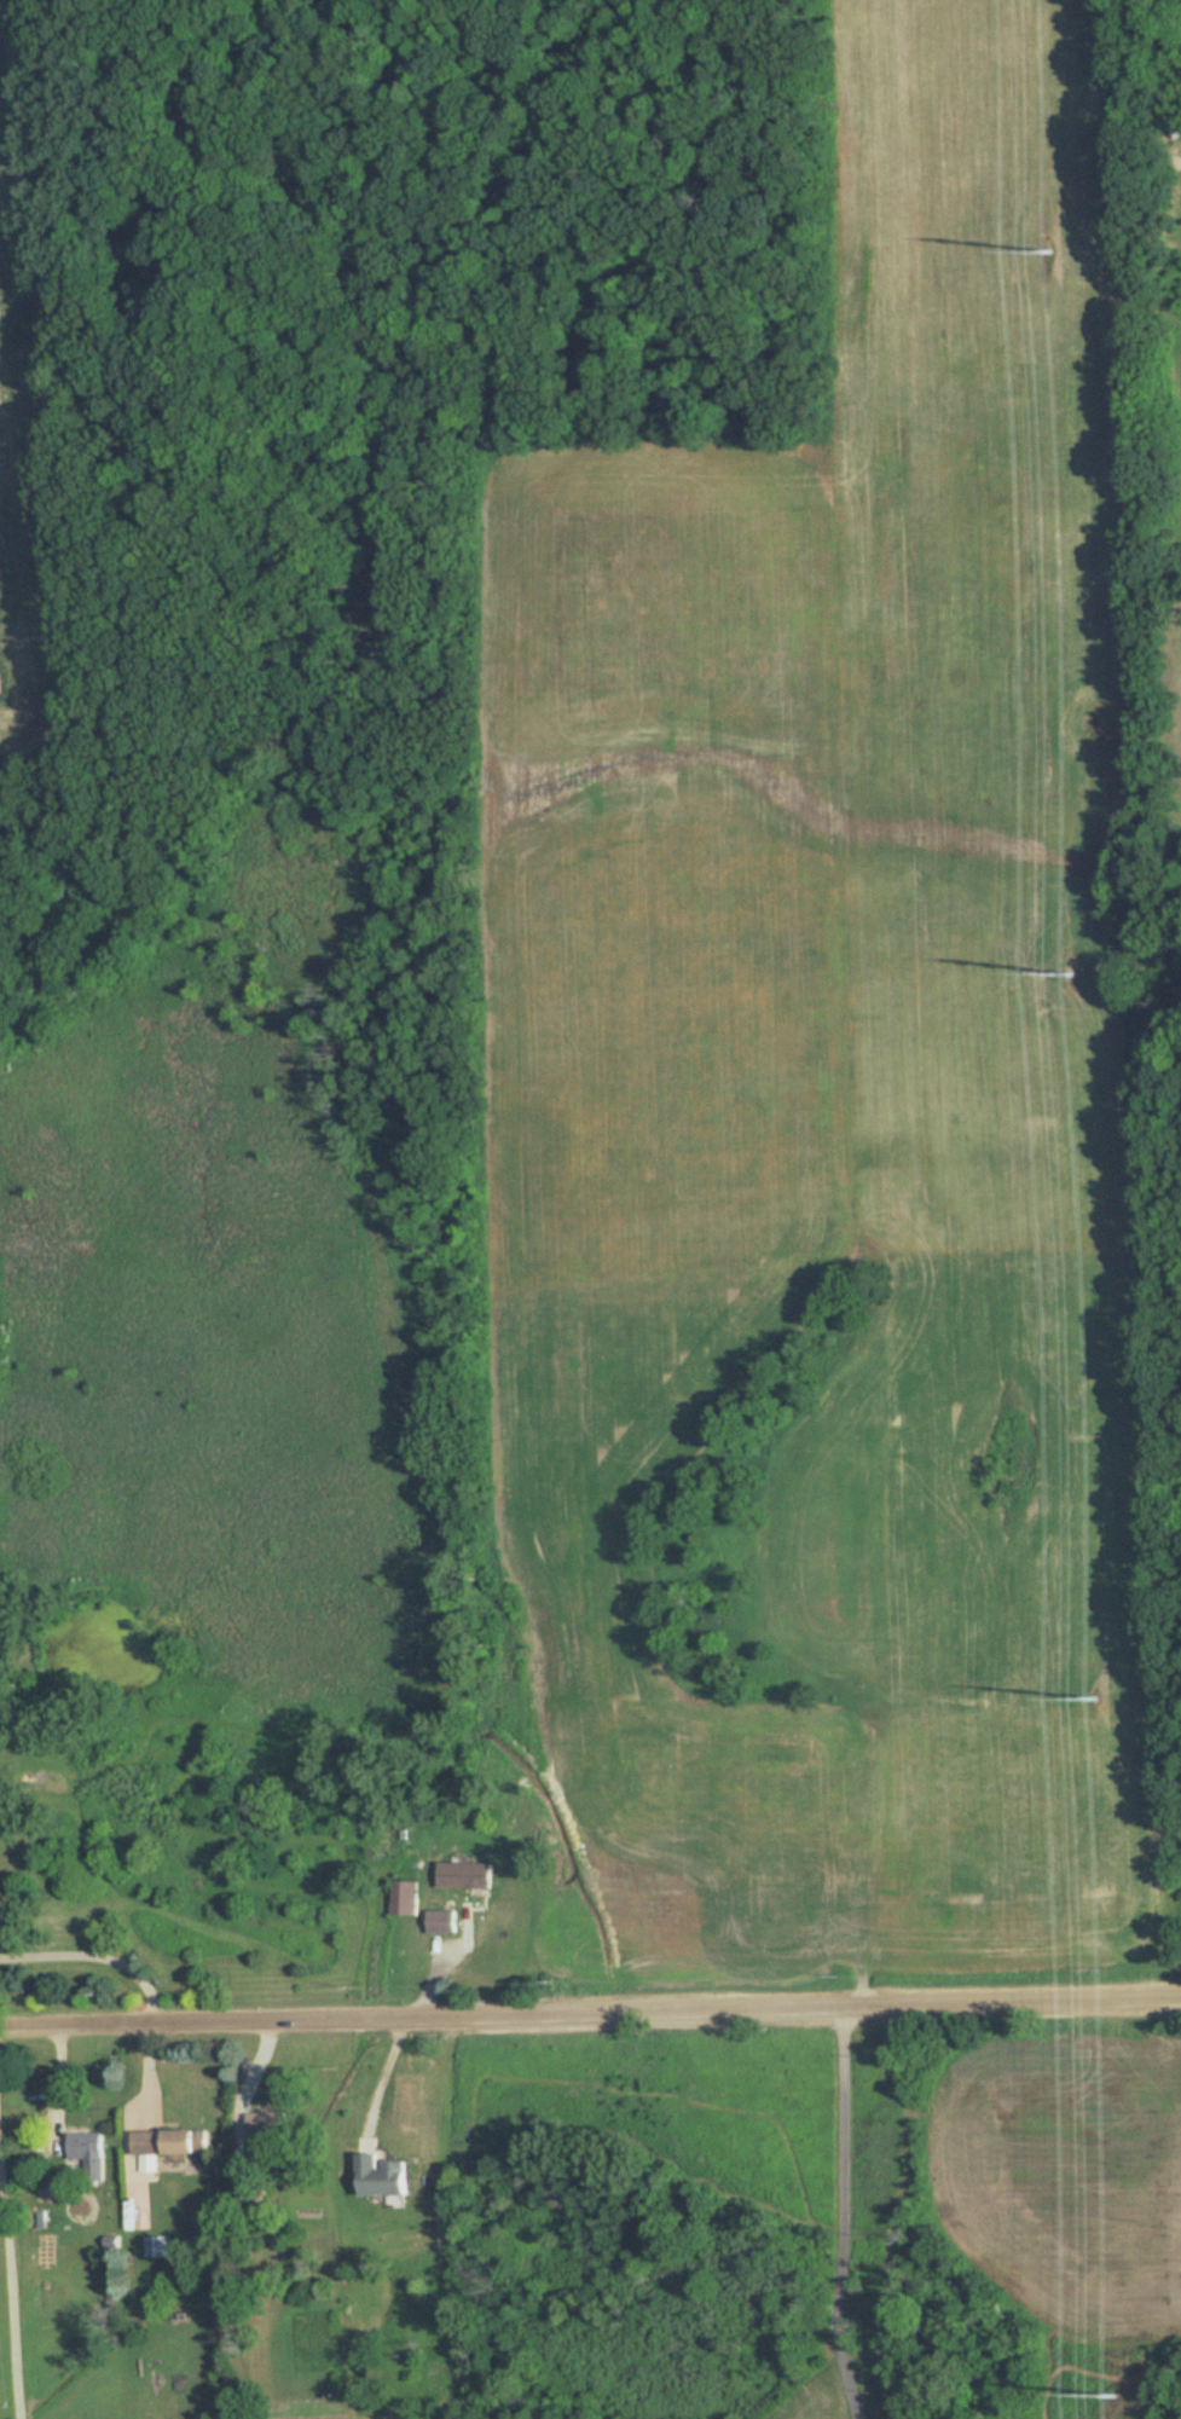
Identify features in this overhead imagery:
power tower: (1050, 251)
power tower: (1073, 974)
power tower: (1092, 1698)
building: (463, 1874)
building: (404, 1897)
building: (441, 1921)
road: (97, 1950)
road: (590, 2006)
road: (383, 2072)
building: (265, 2123)
building: (87, 2152)
building: (378, 2175)
road: (845, 2211)
building: (155, 2246)
road: (7, 2320)
power tower: (1115, 2394)

